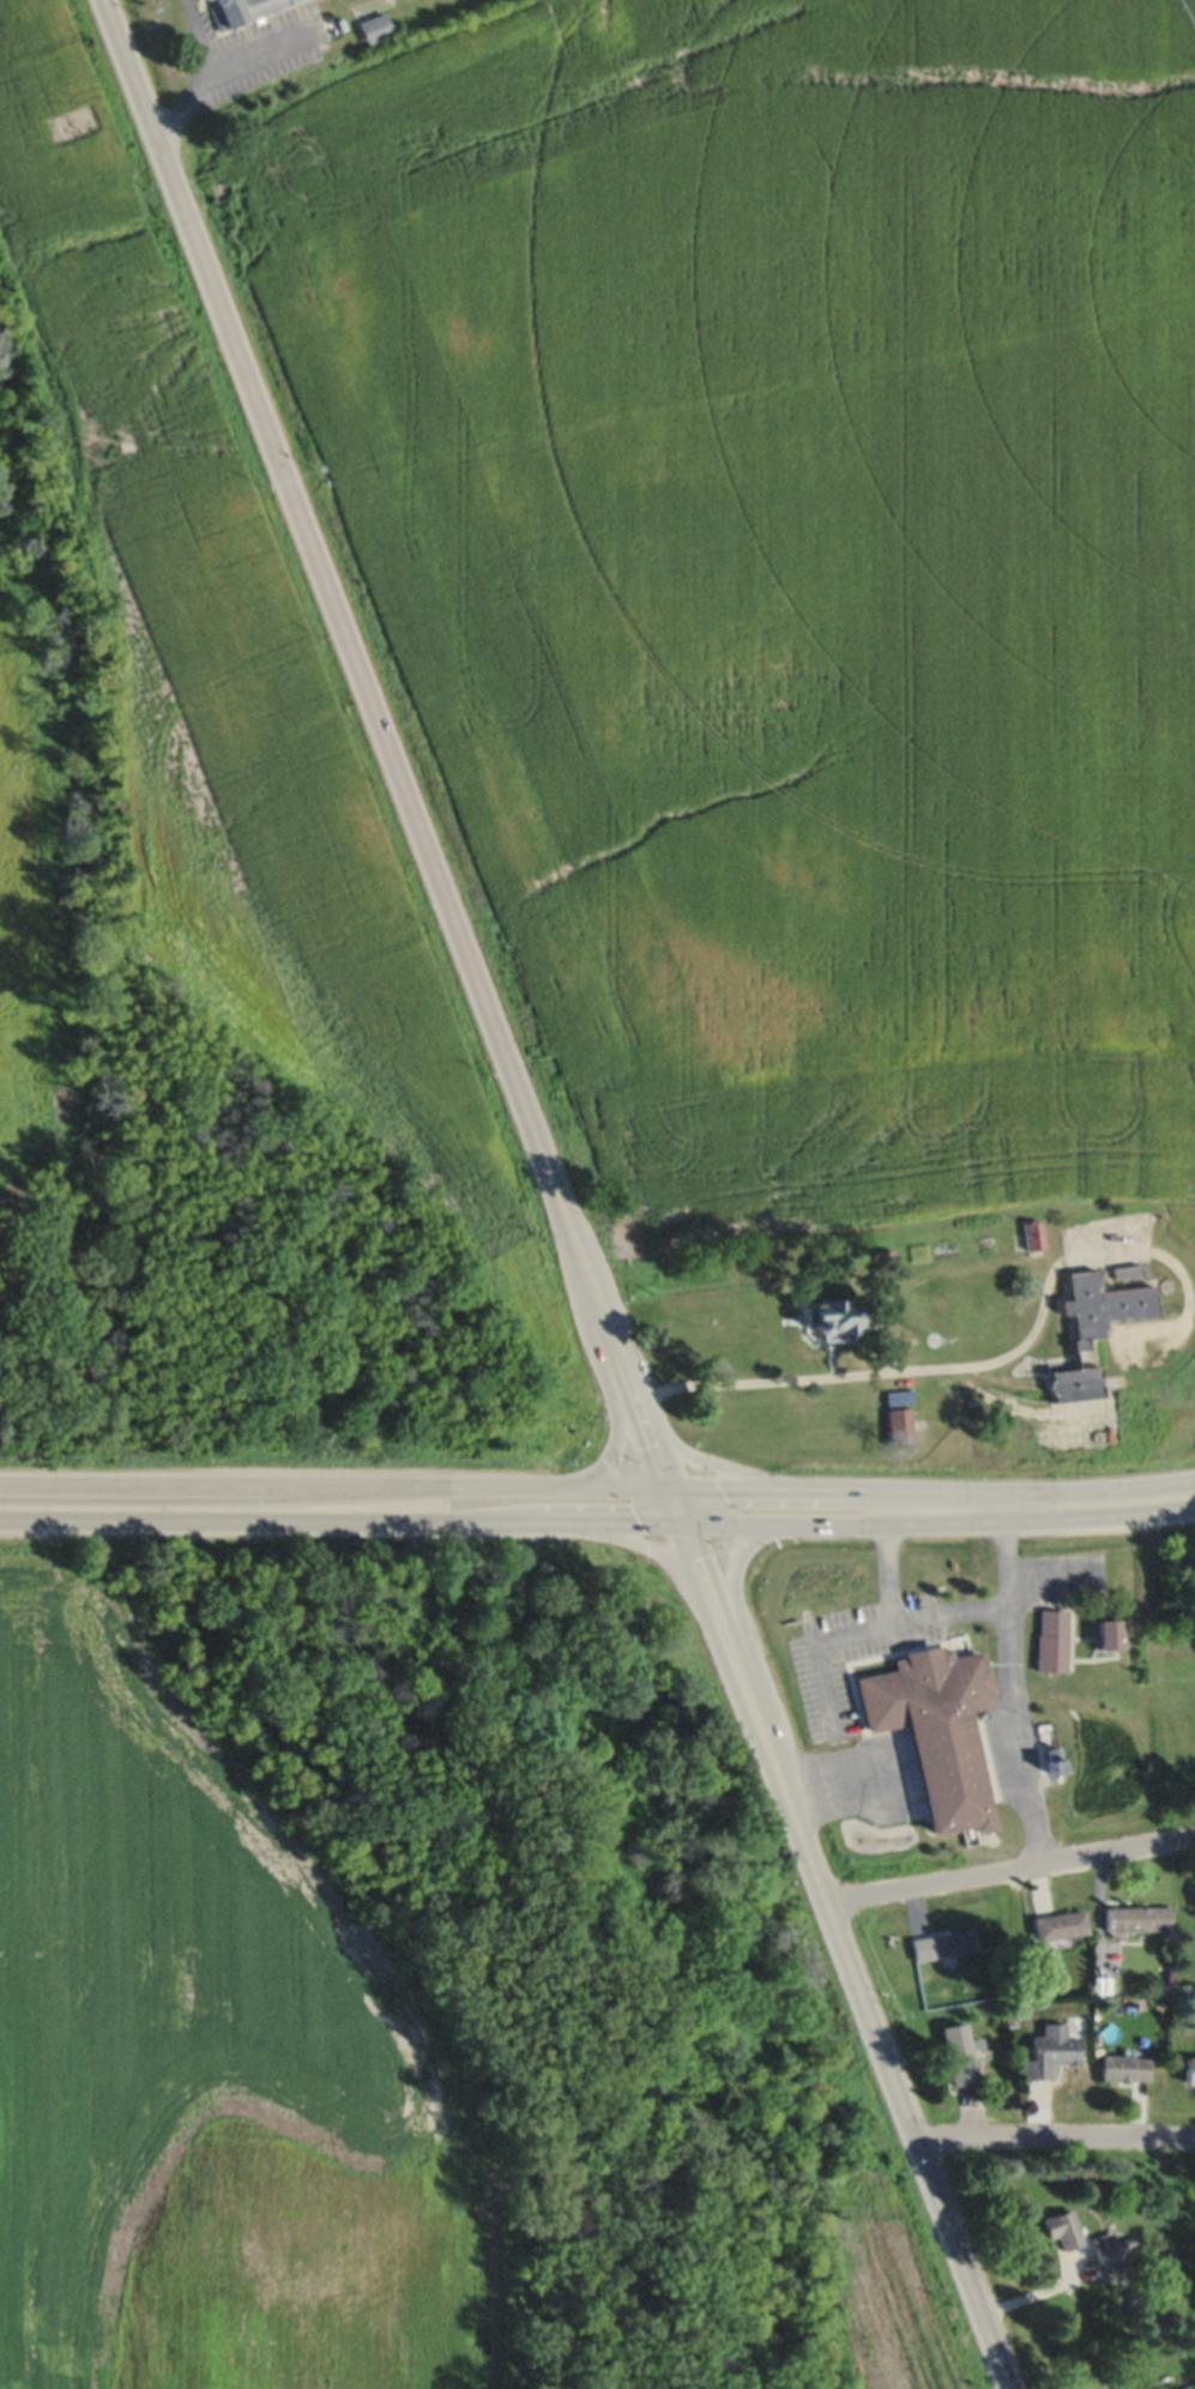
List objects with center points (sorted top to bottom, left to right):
building: (240, 10)
building: (375, 26)
road: (337, 622)
building: (1032, 1235)
building: (881, 1255)
building: (1104, 1305)
building: (837, 1315)
road: (600, 1317)
road: (1014, 1338)
road: (605, 1378)
building: (1076, 1383)
road: (632, 1400)
building: (898, 1424)
road: (651, 1449)
road: (726, 1468)
road: (332, 1485)
traffic signals: (665, 1489)
road: (930, 1494)
road: (671, 1504)
road: (338, 1518)
road: (936, 1519)
traffic signals: (677, 1520)
road: (648, 1543)
road: (887, 1554)
road: (700, 1581)
road: (736, 1601)
road: (865, 1619)
building: (1108, 1633)
building: (1050, 1639)
road: (1014, 1679)
road: (737, 1682)
building: (936, 1726)
road: (1008, 1869)
building: (1193, 1894)
building: (1136, 1918)
building: (1060, 1924)
building: (941, 1944)
building: (1049, 2051)
road: (879, 2055)
building: (956, 2055)
building: (1123, 2067)
building: (1190, 2069)
road: (1054, 2131)
building: (1060, 2228)
building: (1106, 2251)
building: (1182, 2387)

